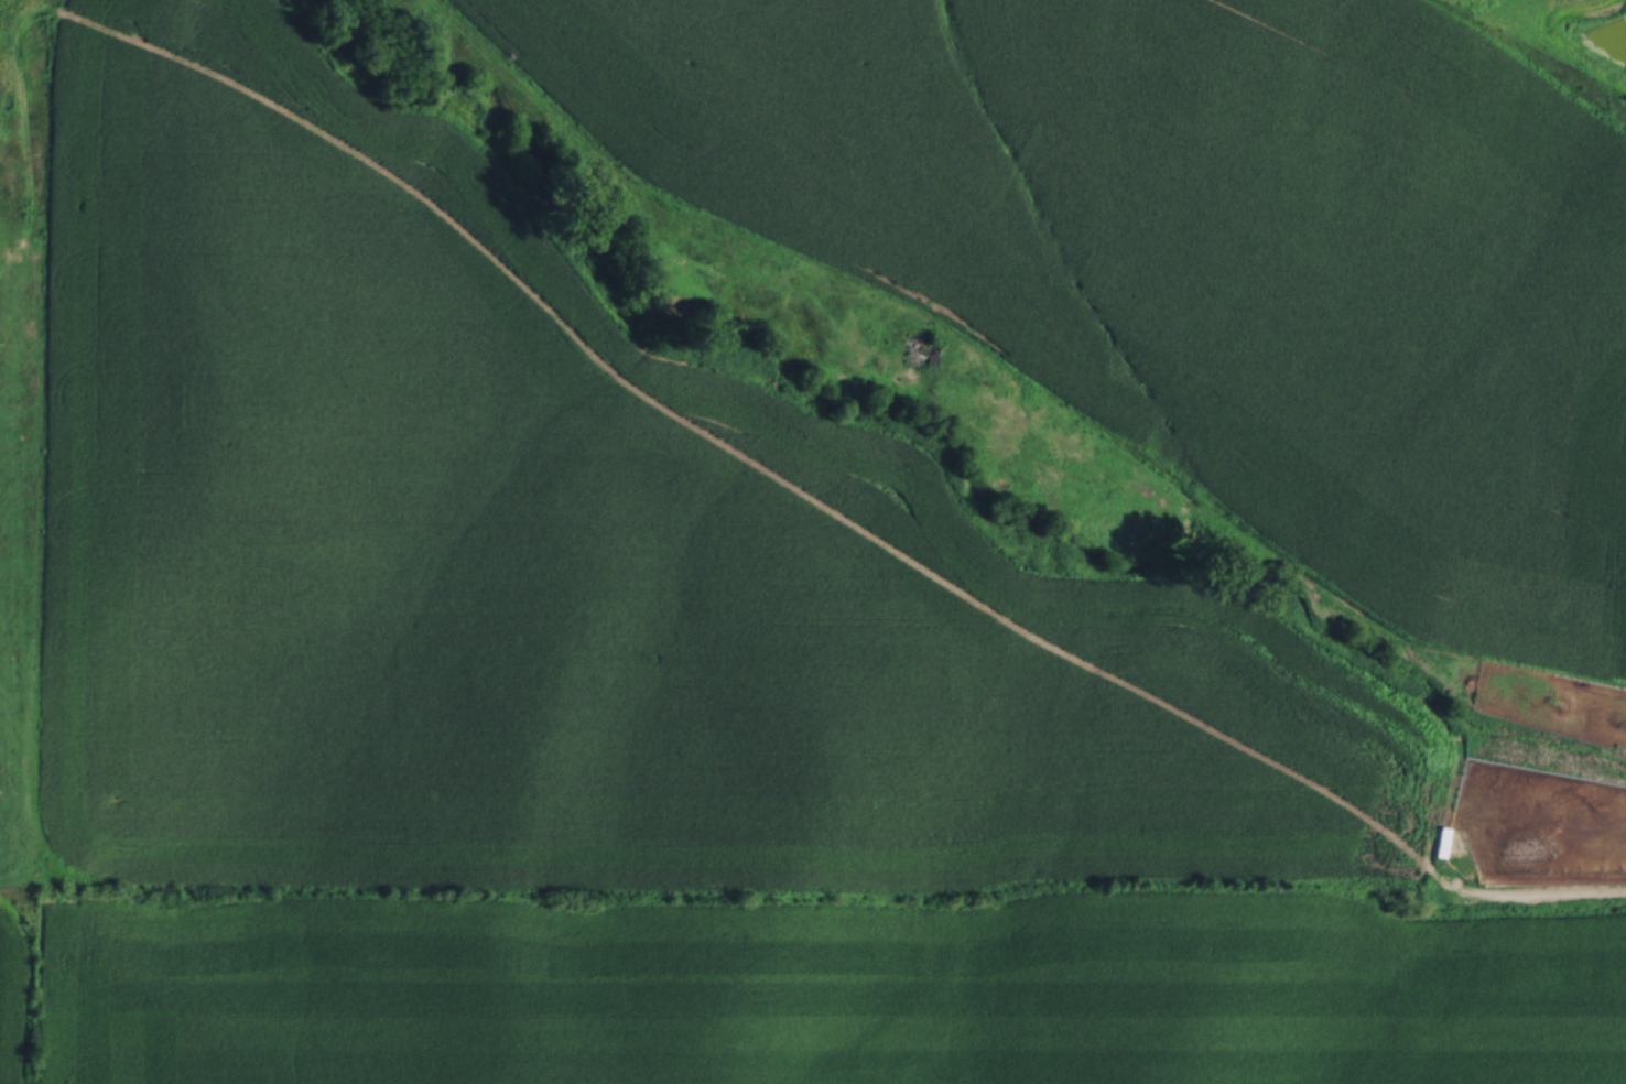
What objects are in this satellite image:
building: (1437, 761)

